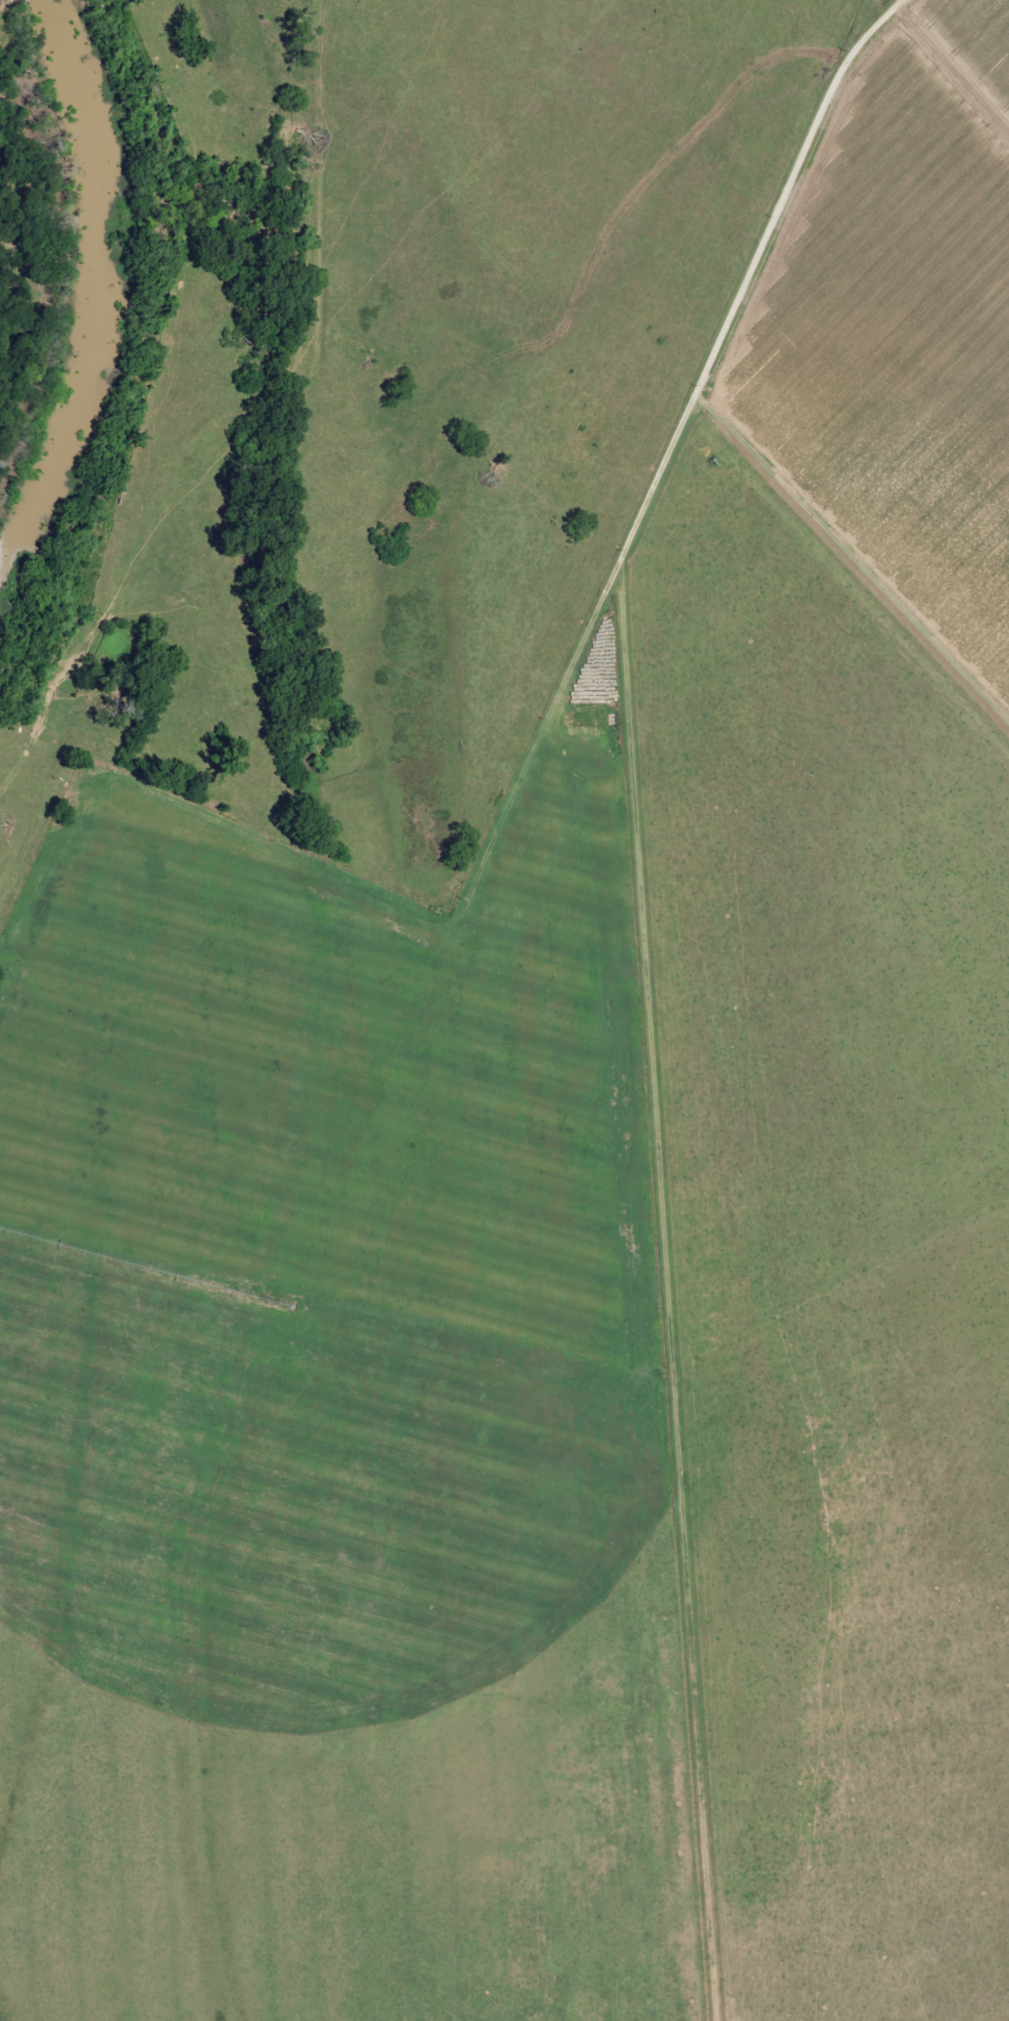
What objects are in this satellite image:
road: (740, 288)

